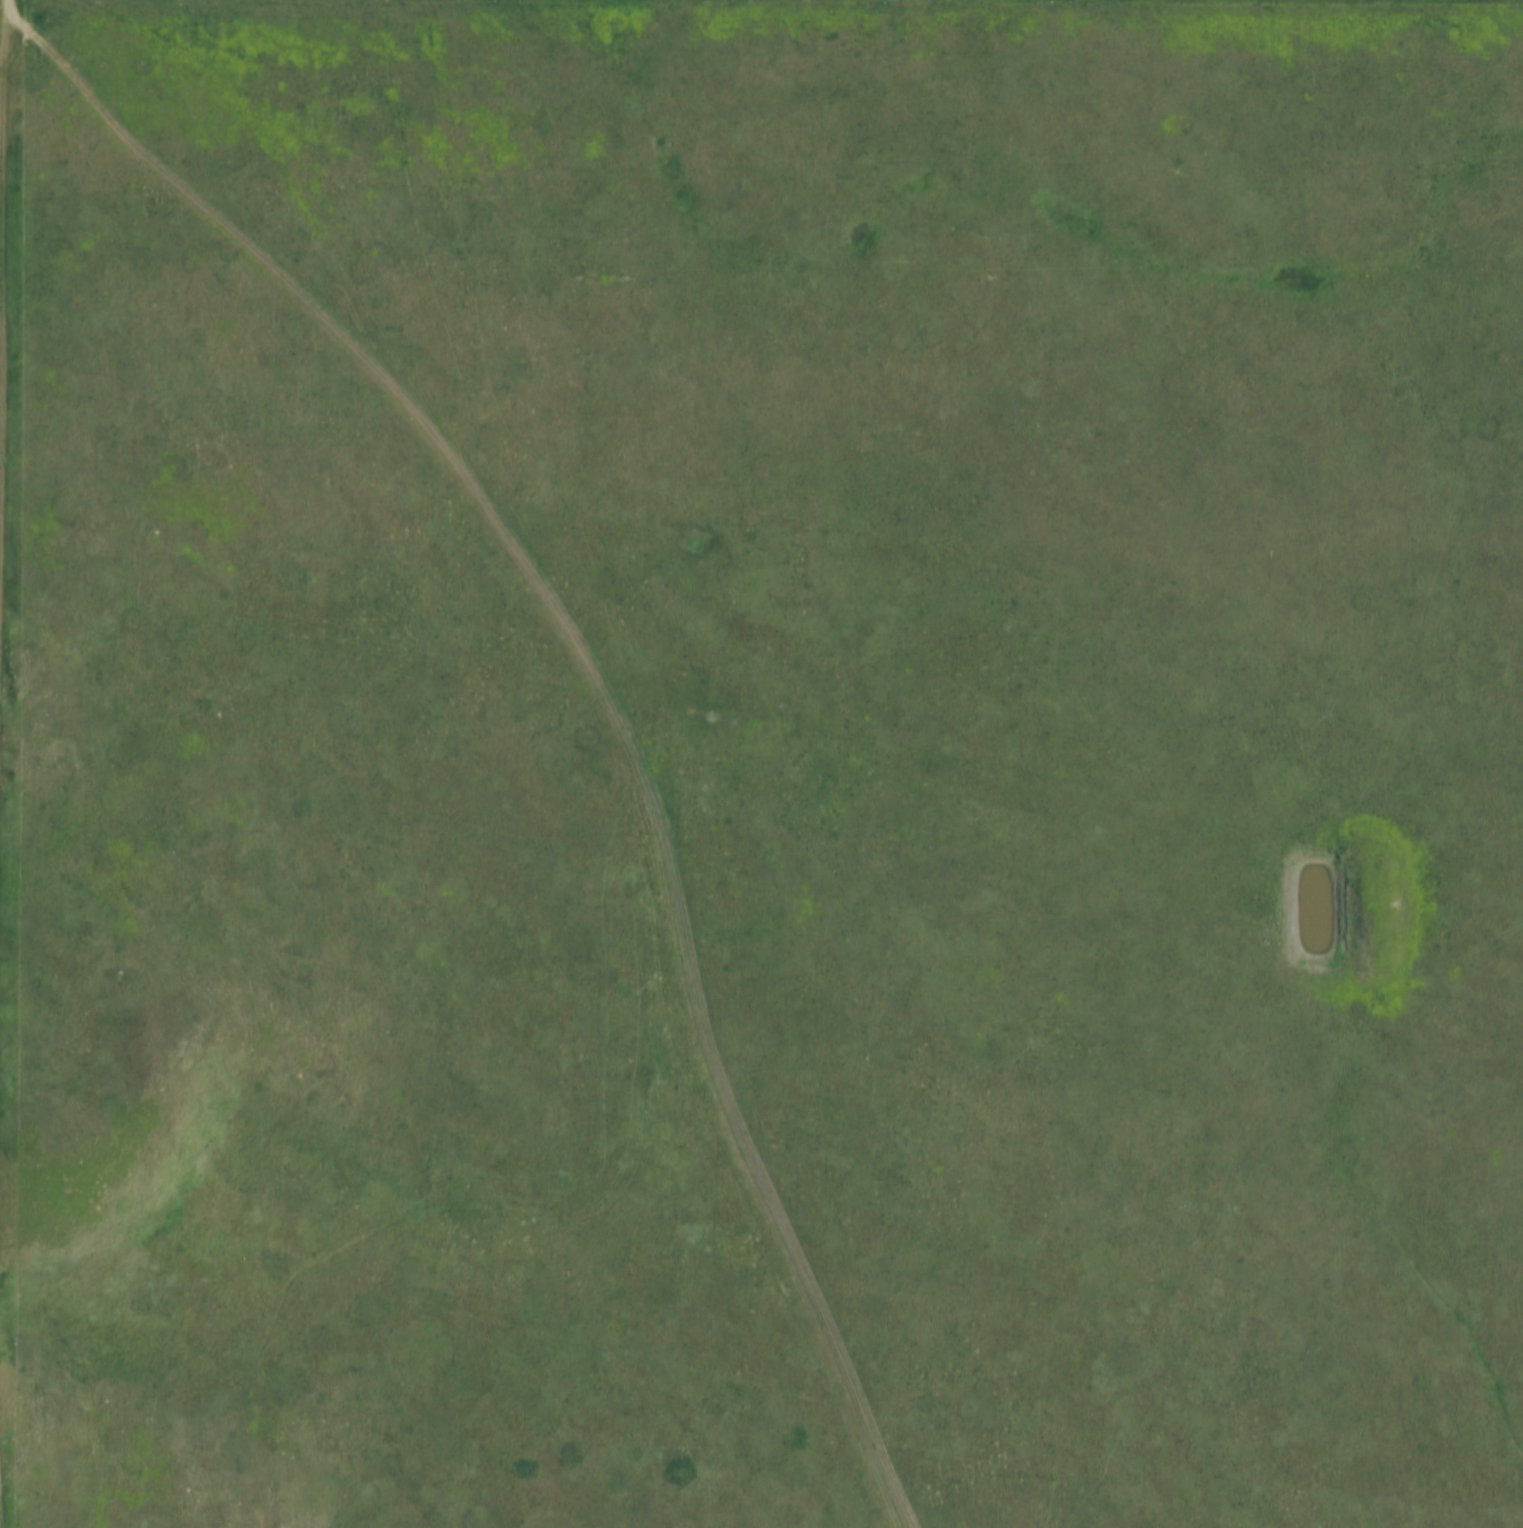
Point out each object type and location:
road: (3, 52)
road: (3, 311)
road: (594, 685)

